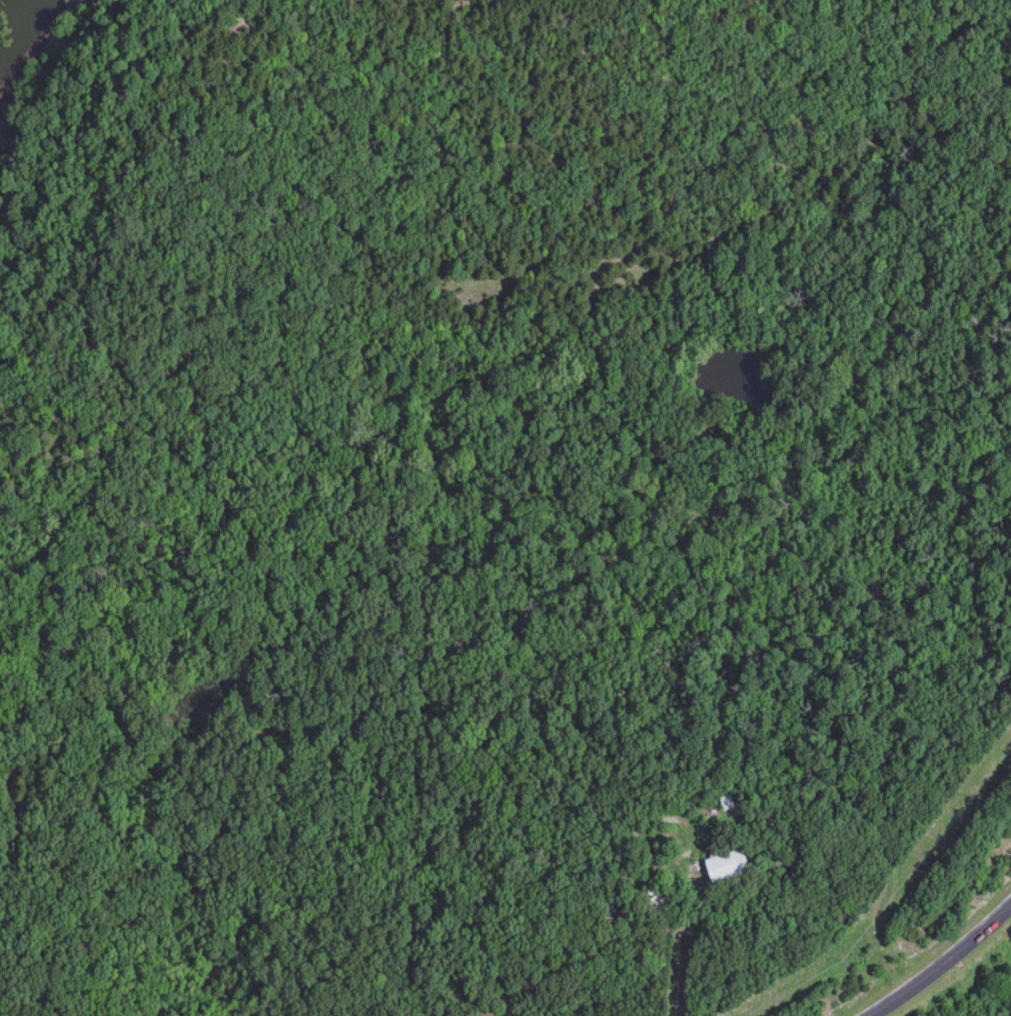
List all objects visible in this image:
building: (730, 865)
building: (661, 904)
road: (936, 960)

